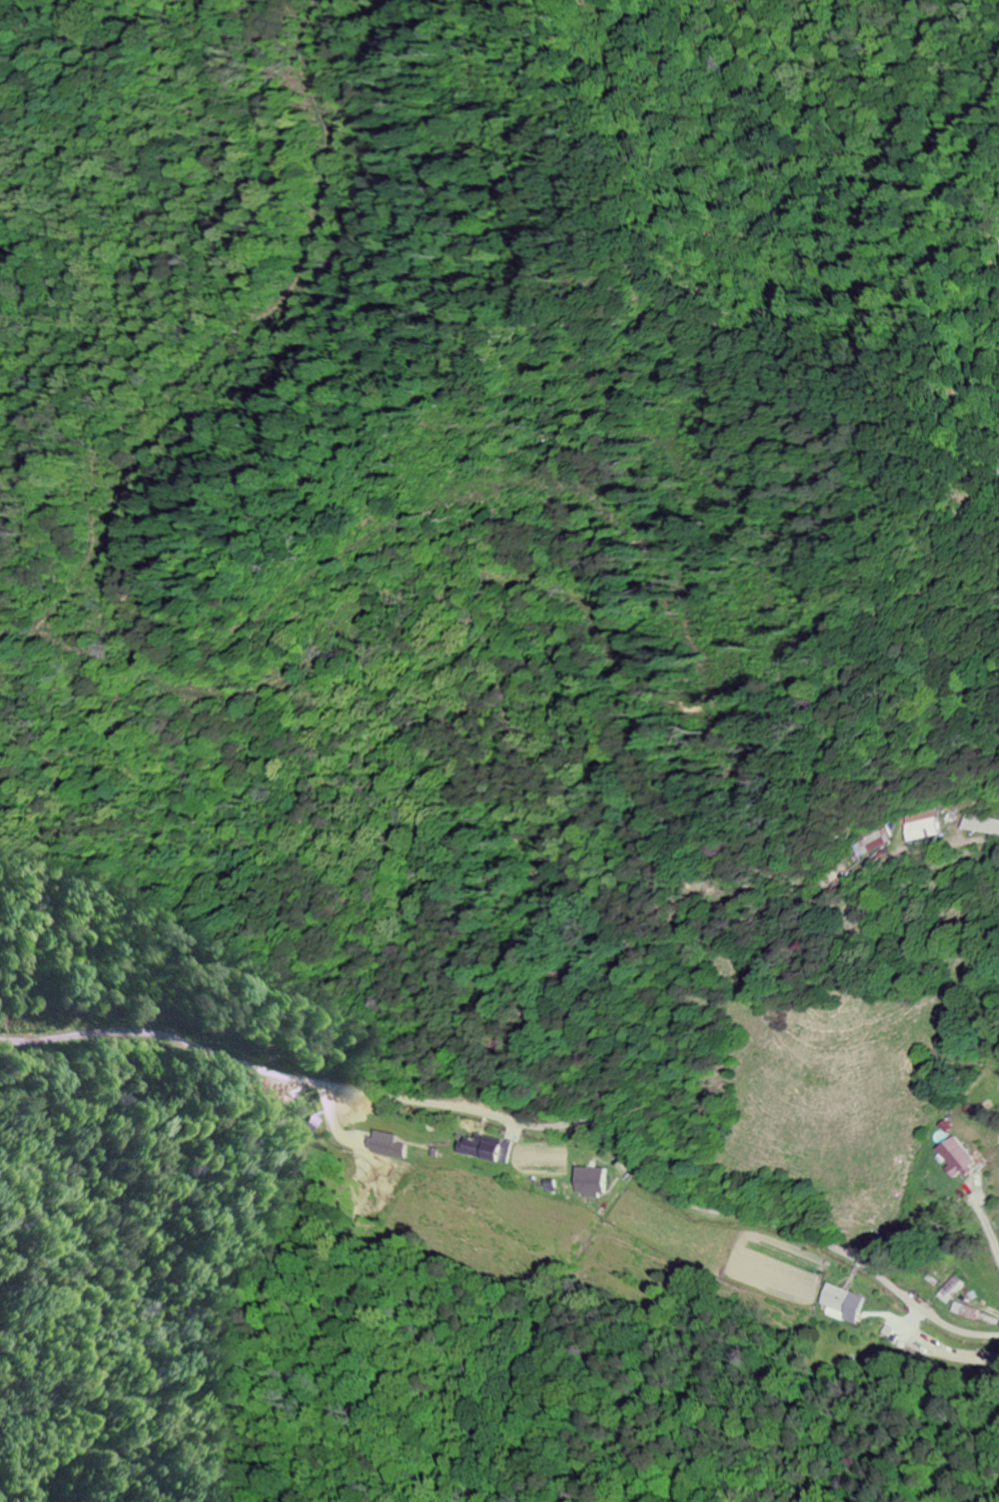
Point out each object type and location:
building: (981, 826)
building: (922, 827)
building: (870, 844)
road: (526, 1122)
building: (386, 1146)
building: (484, 1150)
building: (956, 1159)
building: (591, 1183)
building: (952, 1291)
building: (842, 1302)
building: (966, 1312)

